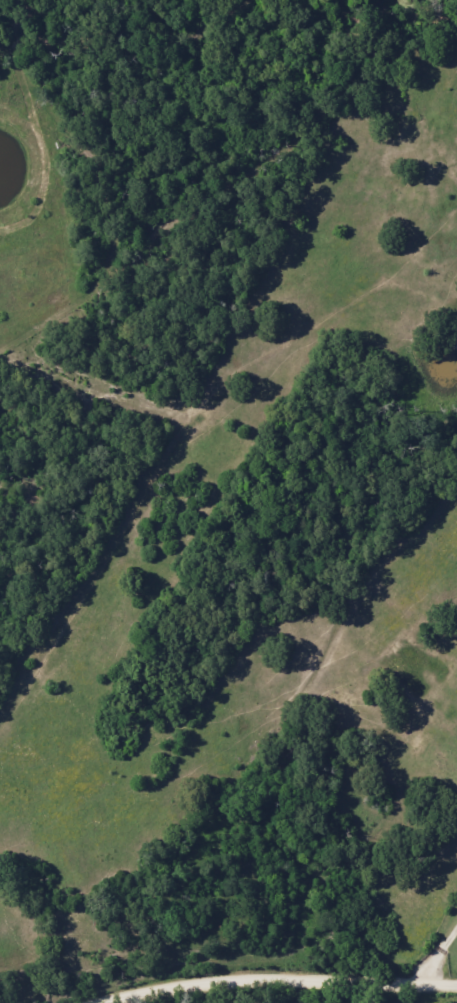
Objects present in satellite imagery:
road: (440, 961)
road: (281, 979)

